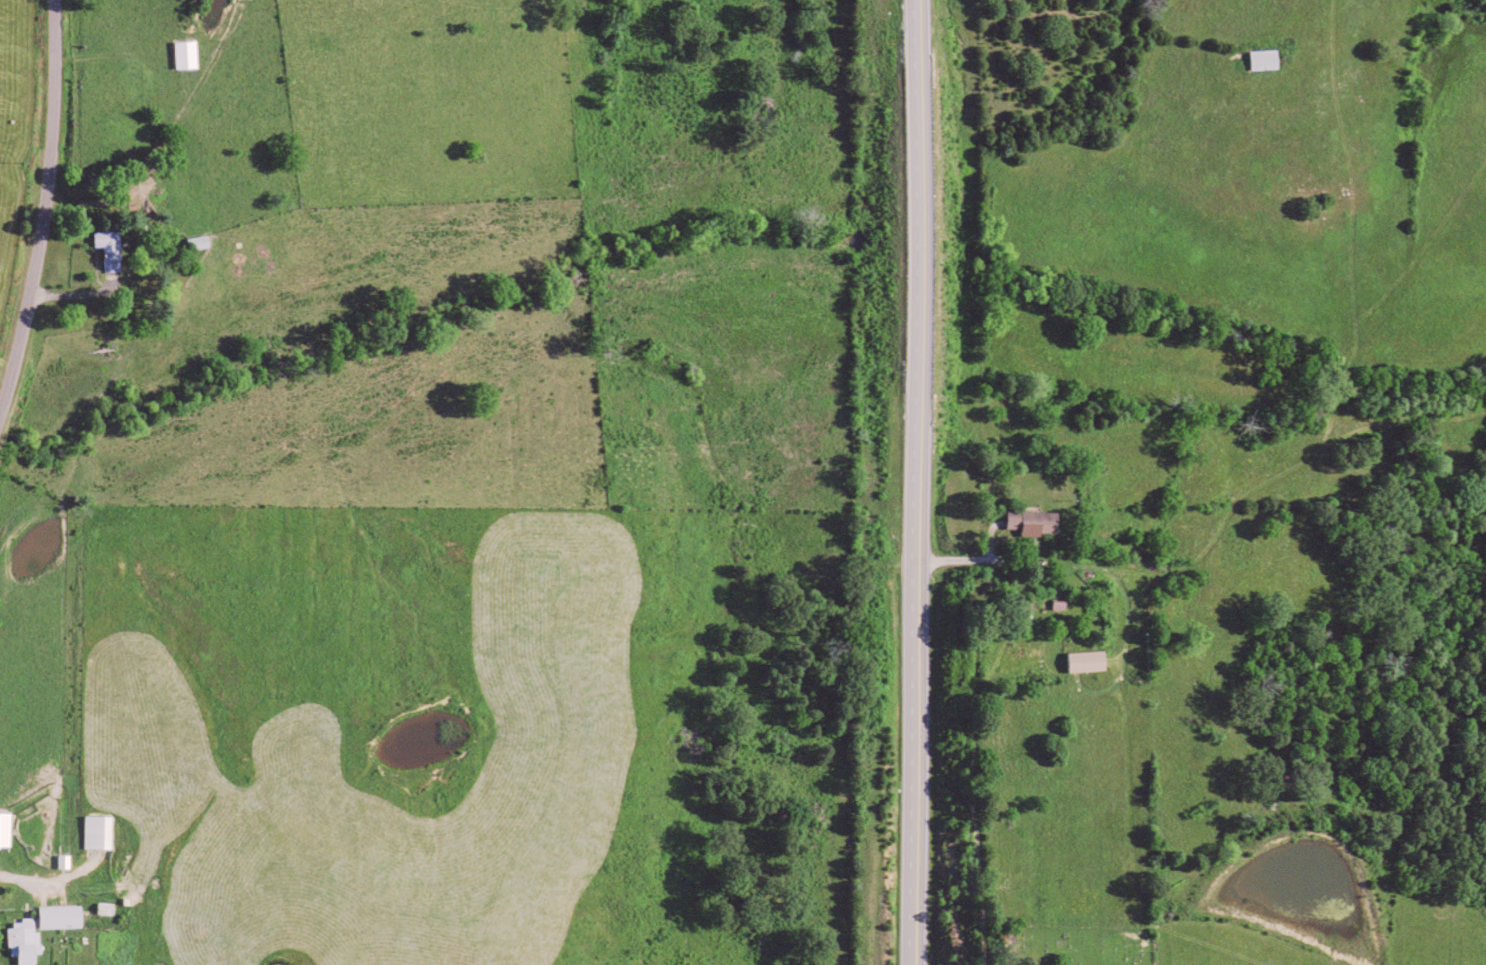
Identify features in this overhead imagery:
building: (192, 54)
building: (1269, 59)
road: (45, 209)
building: (116, 249)
road: (101, 291)
road: (915, 482)
building: (1037, 521)
building: (1093, 660)
building: (8, 827)
building: (104, 831)
building: (69, 860)
road: (46, 882)
building: (66, 916)
building: (30, 940)
park: (1071, 944)

